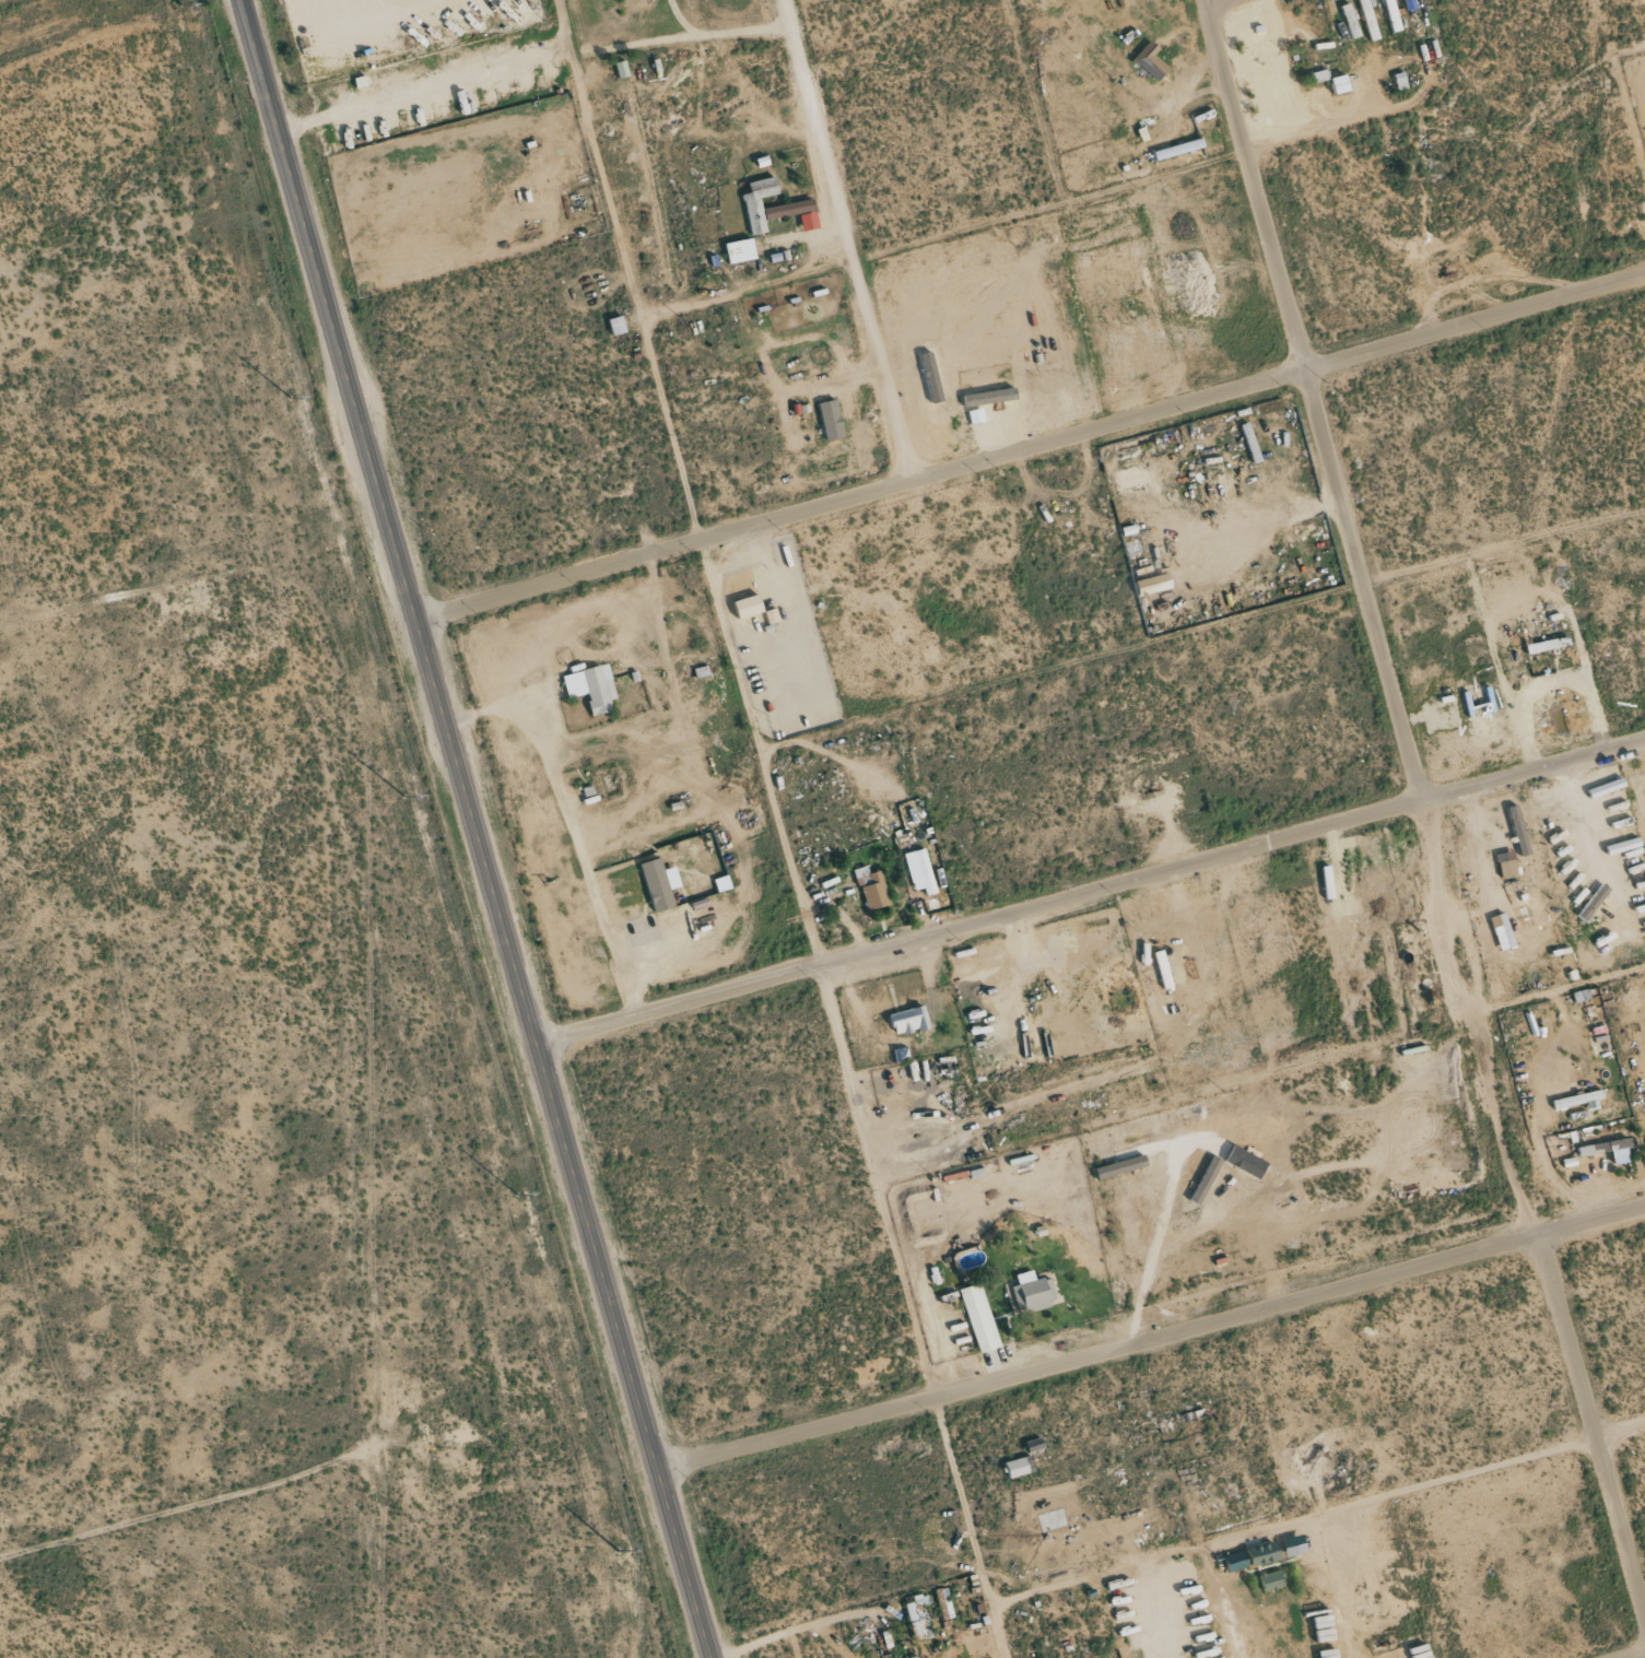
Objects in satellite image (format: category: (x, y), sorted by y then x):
building: (636, 0)
road: (1210, 2)
power tower: (183, 3)
building: (1391, 15)
road: (726, 32)
building: (1150, 61)
building: (621, 69)
building: (1319, 75)
building: (1400, 81)
building: (1338, 84)
building: (1177, 149)
building: (757, 203)
building: (795, 212)
road: (847, 240)
building: (739, 250)
road: (626, 269)
road: (750, 290)
building: (616, 326)
building: (989, 397)
power tower: (292, 398)
road: (1308, 402)
building: (975, 415)
building: (830, 420)
building: (1248, 438)
road: (1031, 445)
building: (1131, 478)
building: (1152, 585)
building: (747, 607)
building: (591, 687)
road: (1529, 773)
power tower: (403, 798)
road: (572, 826)
road: (477, 828)
building: (1506, 863)
road: (1484, 871)
building: (924, 873)
building: (656, 885)
building: (871, 889)
building: (1596, 897)
road: (977, 927)
road: (819, 967)
road: (1458, 993)
building: (908, 1020)
building: (1620, 1152)
building: (1119, 1166)
power tower: (520, 1193)
road: (1595, 1218)
building: (1032, 1292)
building: (979, 1319)
road: (1103, 1352)
road: (1595, 1420)
building: (1019, 1466)
road: (1376, 1501)
road: (970, 1528)
building: (1292, 1545)
power tower: (619, 1551)
building: (1262, 1553)
building: (1235, 1561)
road: (1118, 1569)
building: (1271, 1580)
road: (1338, 1587)
road: (1630, 1654)

